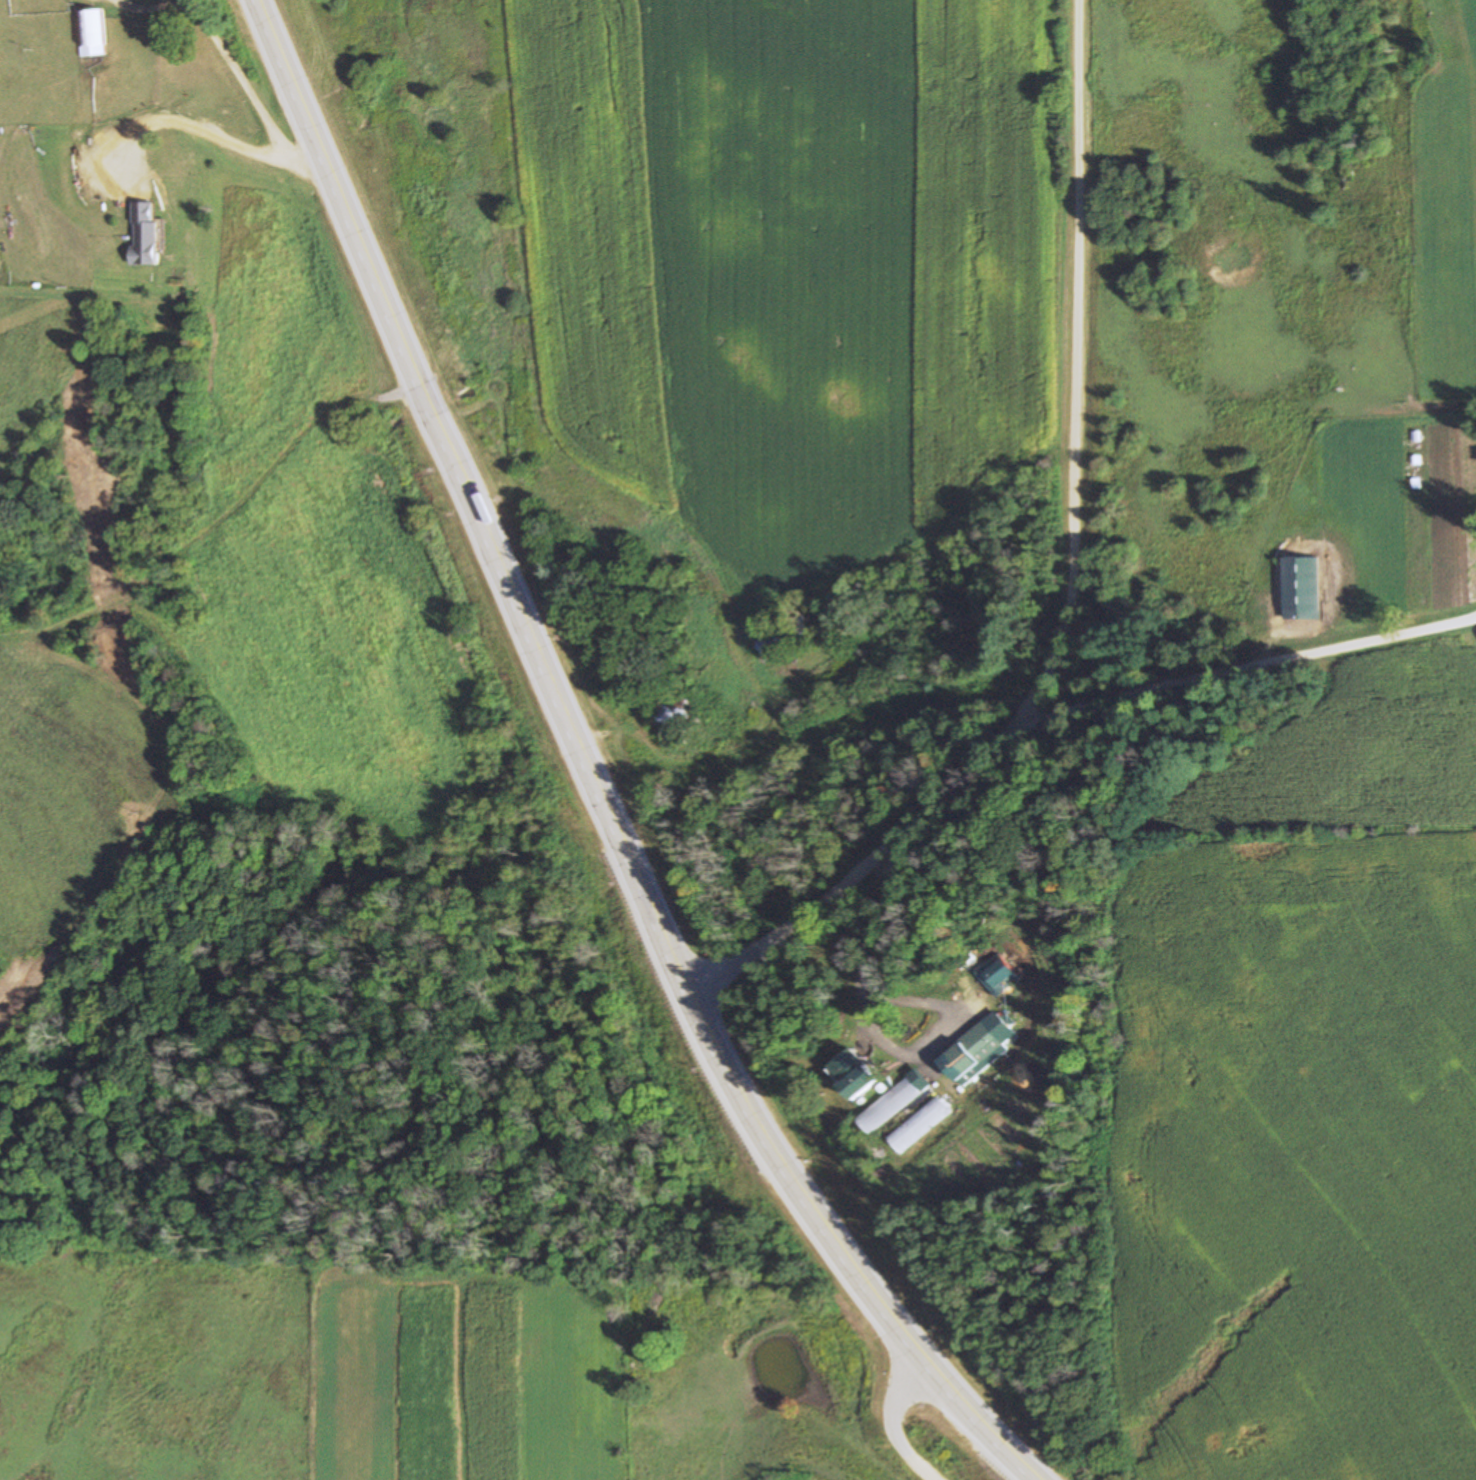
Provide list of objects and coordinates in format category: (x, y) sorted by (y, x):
building: (91, 33)
building: (143, 234)
road: (1072, 578)
building: (782, 639)
road: (1235, 667)
building: (667, 724)
road: (594, 774)
building: (998, 975)
building: (969, 1053)
building: (855, 1084)
building: (894, 1103)
road: (895, 1418)

